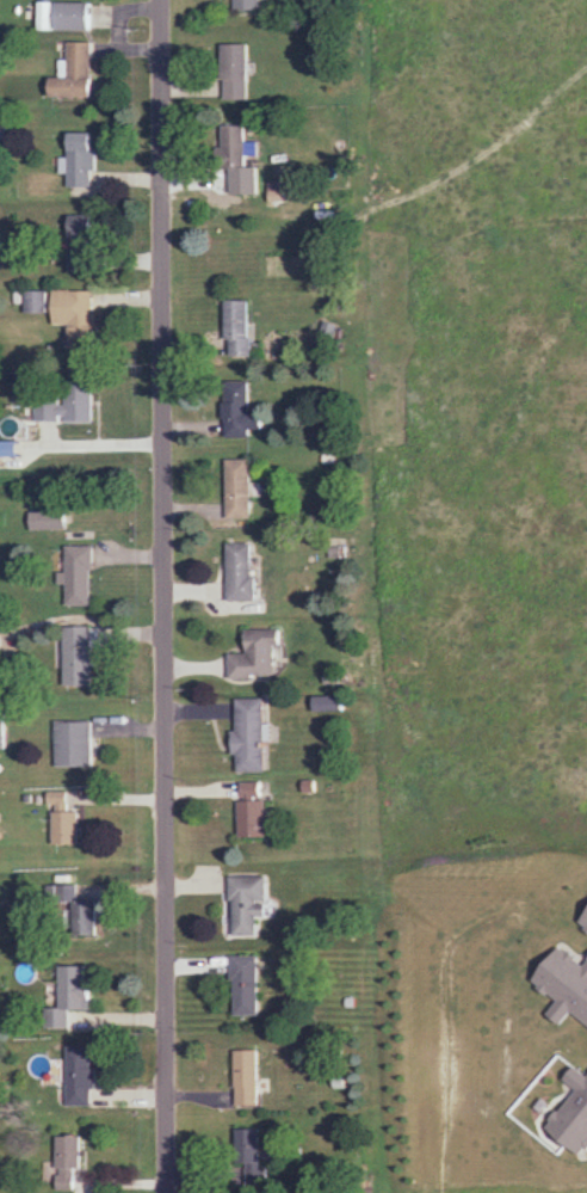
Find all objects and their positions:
building: (247, 4)
building: (74, 14)
building: (236, 69)
building: (76, 73)
building: (4, 139)
building: (234, 147)
building: (82, 160)
building: (81, 222)
building: (81, 250)
building: (36, 301)
building: (75, 312)
building: (240, 326)
building: (328, 331)
building: (69, 402)
building: (237, 408)
building: (239, 487)
building: (48, 519)
building: (241, 571)
building: (79, 576)
road: (163, 596)
building: (2, 640)
building: (258, 652)
building: (78, 654)
building: (333, 677)
building: (329, 702)
building: (0, 730)
building: (252, 734)
building: (74, 743)
building: (310, 785)
building: (251, 789)
building: (58, 798)
building: (252, 816)
building: (66, 826)
building: (62, 891)
building: (247, 902)
building: (87, 918)
building: (247, 983)
building: (76, 986)
building: (55, 1017)
building: (80, 1075)
building: (247, 1077)
building: (249, 1150)
building: (70, 1160)

